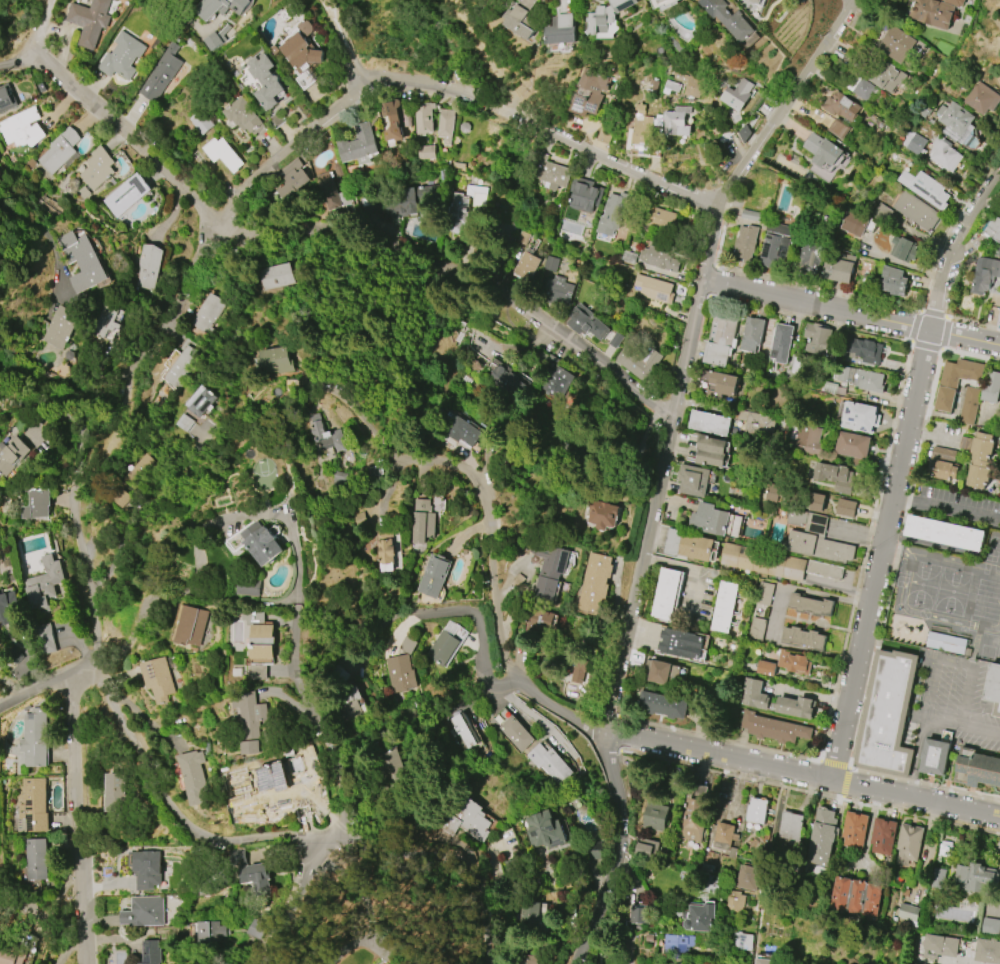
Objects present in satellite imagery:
building: (179, 0)
building: (756, 2)
building: (662, 4)
building: (220, 7)
building: (936, 11)
building: (606, 18)
building: (729, 18)
building: (90, 20)
building: (520, 21)
road: (49, 28)
building: (561, 30)
road: (347, 39)
building: (215, 40)
building: (896, 43)
building: (122, 56)
building: (302, 56)
road: (488, 59)
road: (20, 61)
building: (161, 74)
building: (887, 76)
building: (265, 80)
building: (693, 84)
building: (862, 89)
building: (590, 92)
building: (737, 94)
building: (6, 97)
building: (982, 98)
building: (841, 106)
building: (924, 111)
building: (243, 116)
building: (397, 117)
building: (424, 118)
building: (678, 121)
building: (200, 122)
building: (956, 122)
building: (446, 125)
building: (23, 128)
building: (838, 128)
road: (549, 130)
building: (640, 131)
building: (913, 142)
building: (359, 145)
building: (824, 150)
building: (61, 152)
building: (427, 152)
building: (223, 153)
building: (944, 153)
building: (98, 167)
building: (552, 173)
building: (291, 181)
road: (254, 184)
building: (926, 188)
building: (329, 190)
building: (126, 194)
building: (586, 194)
building: (413, 200)
road: (725, 202)
road: (976, 202)
building: (916, 211)
building: (882, 212)
building: (612, 214)
building: (751, 215)
building: (662, 219)
building: (858, 223)
building: (993, 229)
building: (880, 232)
road: (347, 239)
building: (746, 241)
road: (47, 243)
building: (904, 249)
building: (772, 251)
building: (996, 251)
building: (814, 253)
road: (941, 253)
building: (659, 258)
building: (81, 260)
building: (551, 262)
road: (711, 264)
building: (527, 265)
building: (148, 266)
building: (839, 267)
building: (984, 275)
building: (278, 276)
road: (786, 280)
building: (895, 281)
road: (715, 282)
building: (655, 288)
building: (559, 289)
road: (706, 298)
building: (207, 312)
road: (851, 313)
road: (934, 314)
building: (999, 319)
building: (106, 320)
road: (813, 321)
building: (587, 322)
road: (973, 323)
building: (62, 326)
road: (918, 327)
road: (944, 333)
building: (752, 334)
building: (721, 338)
building: (816, 339)
building: (616, 340)
building: (781, 343)
road: (928, 345)
building: (862, 350)
road: (971, 355)
building: (166, 359)
building: (276, 361)
building: (639, 362)
building: (179, 365)
building: (858, 376)
building: (506, 378)
building: (554, 378)
road: (695, 378)
building: (954, 382)
building: (725, 383)
building: (829, 387)
building: (990, 387)
building: (202, 401)
building: (969, 405)
building: (858, 416)
building: (710, 423)
road: (365, 426)
building: (464, 432)
building: (327, 434)
building: (808, 438)
building: (966, 442)
building: (852, 445)
building: (983, 446)
building: (712, 451)
building: (12, 455)
road: (671, 455)
building: (145, 463)
building: (943, 464)
road: (661, 469)
road: (901, 470)
building: (978, 474)
building: (839, 477)
building: (692, 480)
building: (816, 500)
building: (33, 503)
building: (845, 507)
road: (943, 507)
building: (601, 514)
building: (357, 519)
building: (715, 520)
building: (422, 521)
building: (945, 533)
building: (815, 537)
building: (259, 541)
road: (80, 542)
building: (688, 545)
building: (385, 550)
road: (867, 551)
road: (894, 558)
building: (774, 563)
road: (690, 569)
building: (548, 570)
building: (433, 575)
building: (517, 581)
building: (595, 582)
building: (44, 583)
road: (494, 585)
building: (249, 587)
building: (666, 594)
road: (249, 600)
building: (809, 605)
building: (724, 606)
building: (9, 607)
road: (297, 607)
building: (759, 611)
road: (440, 612)
road: (140, 619)
building: (540, 622)
building: (190, 625)
building: (260, 637)
building: (803, 637)
building: (45, 638)
building: (947, 640)
building: (680, 643)
building: (407, 644)
building: (442, 648)
building: (795, 663)
road: (967, 666)
building: (766, 668)
building: (658, 672)
building: (399, 673)
building: (581, 677)
building: (158, 678)
road: (491, 682)
road: (41, 685)
building: (993, 689)
building: (754, 694)
building: (351, 704)
building: (663, 704)
building: (796, 707)
road: (926, 707)
road: (612, 714)
building: (887, 715)
building: (250, 721)
road: (545, 724)
building: (513, 728)
building: (773, 728)
building: (464, 730)
road: (620, 732)
building: (34, 738)
road: (719, 738)
road: (616, 753)
building: (936, 754)
road: (916, 756)
building: (391, 763)
building: (549, 763)
road: (835, 764)
building: (978, 770)
road: (801, 773)
road: (730, 775)
building: (194, 777)
building: (273, 777)
road: (845, 783)
road: (924, 783)
building: (117, 792)
building: (32, 805)
road: (173, 810)
building: (757, 810)
building: (654, 816)
road: (920, 816)
road: (74, 821)
building: (468, 821)
building: (692, 821)
building: (790, 827)
building: (853, 830)
building: (545, 831)
building: (882, 836)
building: (822, 837)
building: (725, 838)
building: (908, 843)
building: (644, 847)
building: (35, 859)
road: (451, 860)
building: (147, 869)
building: (939, 875)
building: (748, 877)
building: (976, 878)
building: (260, 880)
building: (840, 894)
building: (855, 897)
building: (870, 899)
road: (293, 900)
road: (373, 910)
building: (144, 912)
building: (908, 912)
building: (533, 915)
building: (639, 915)
building: (700, 918)
building: (991, 926)
building: (257, 929)
building: (211, 930)
road: (83, 939)
building: (744, 942)
building: (677, 943)
building: (940, 947)
building: (987, 950)
building: (150, 952)
building: (11, 957)
building: (527, 959)
building: (765, 960)
road: (943, 963)

